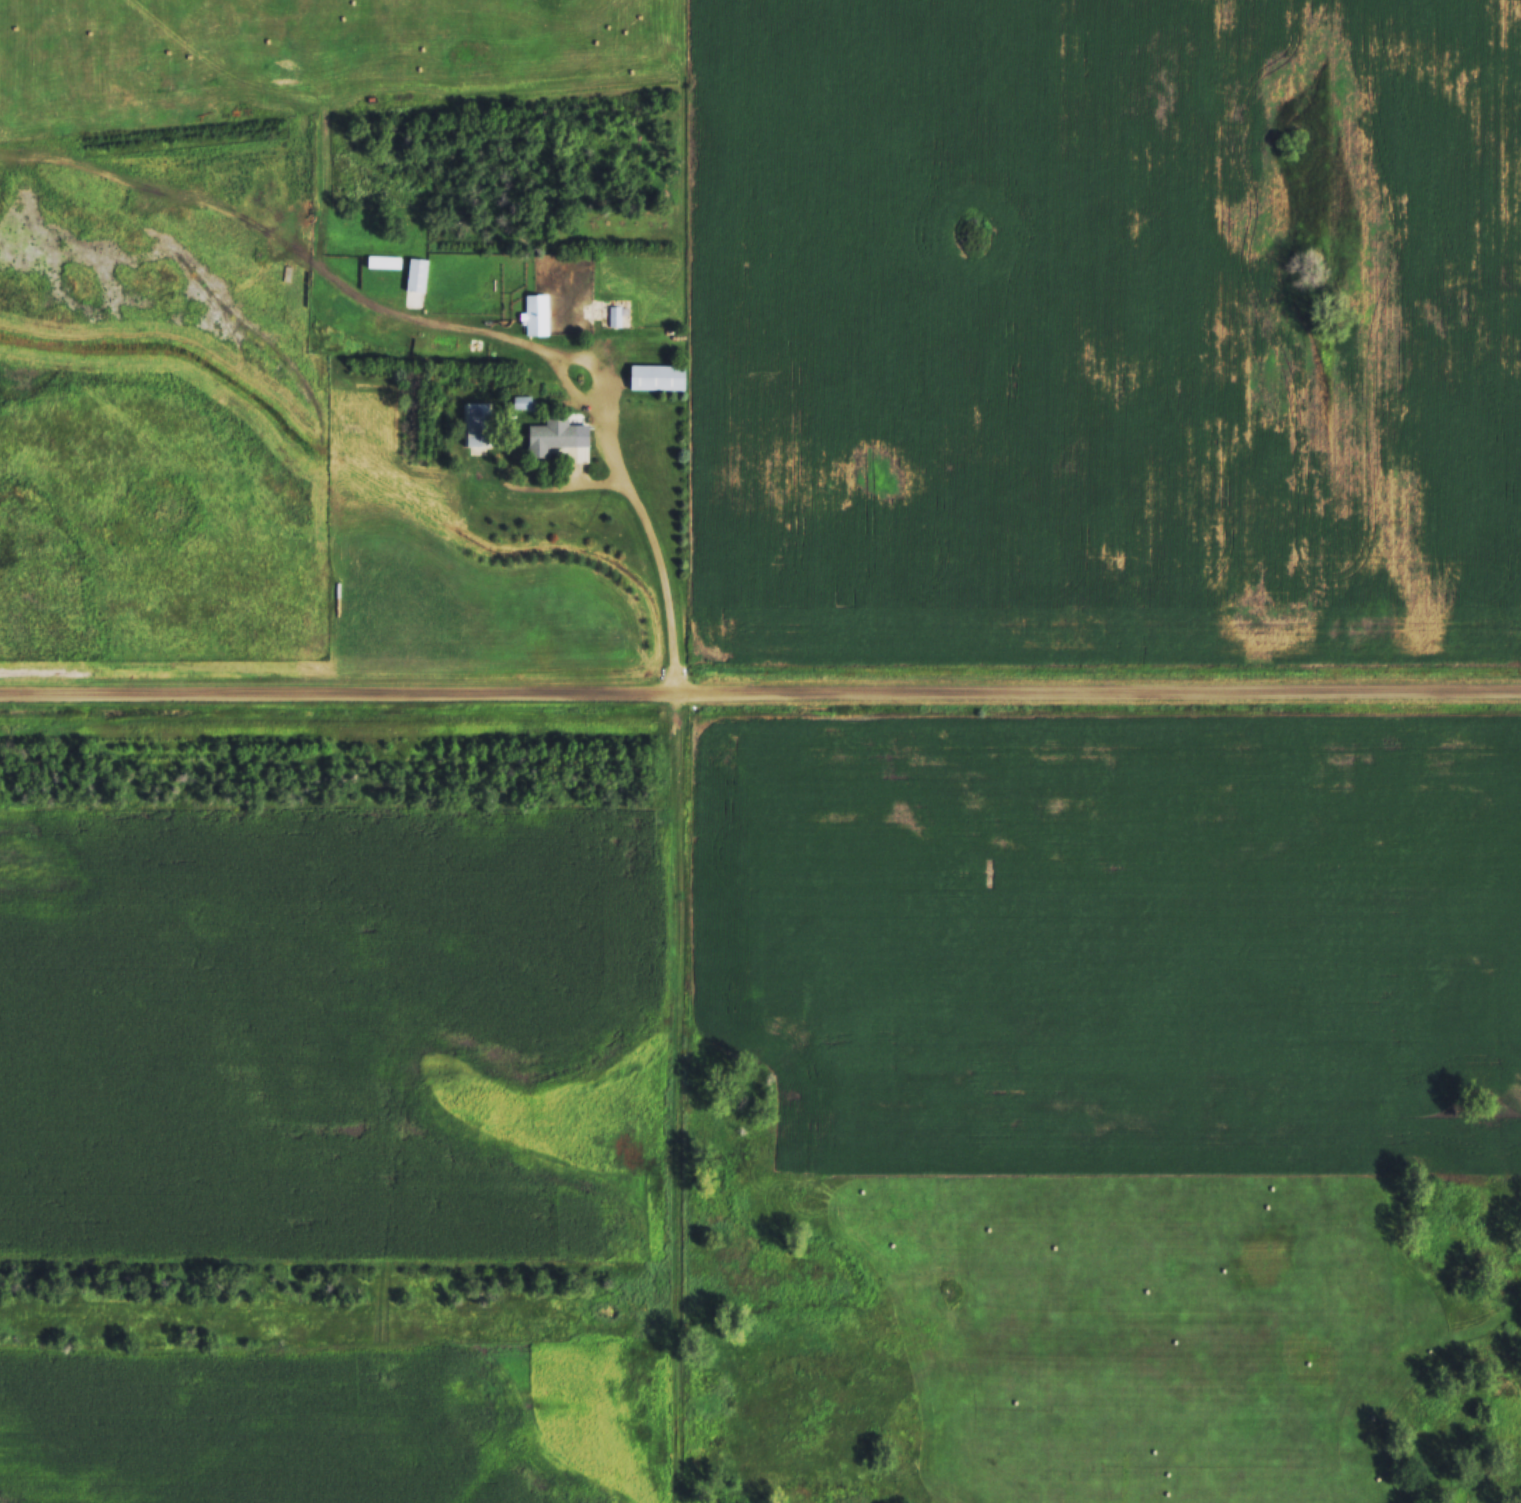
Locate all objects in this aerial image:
building: (378, 261)
building: (411, 274)
building: (532, 314)
building: (611, 315)
building: (652, 377)
building: (474, 427)
building: (546, 436)
road: (659, 559)
road: (760, 696)

